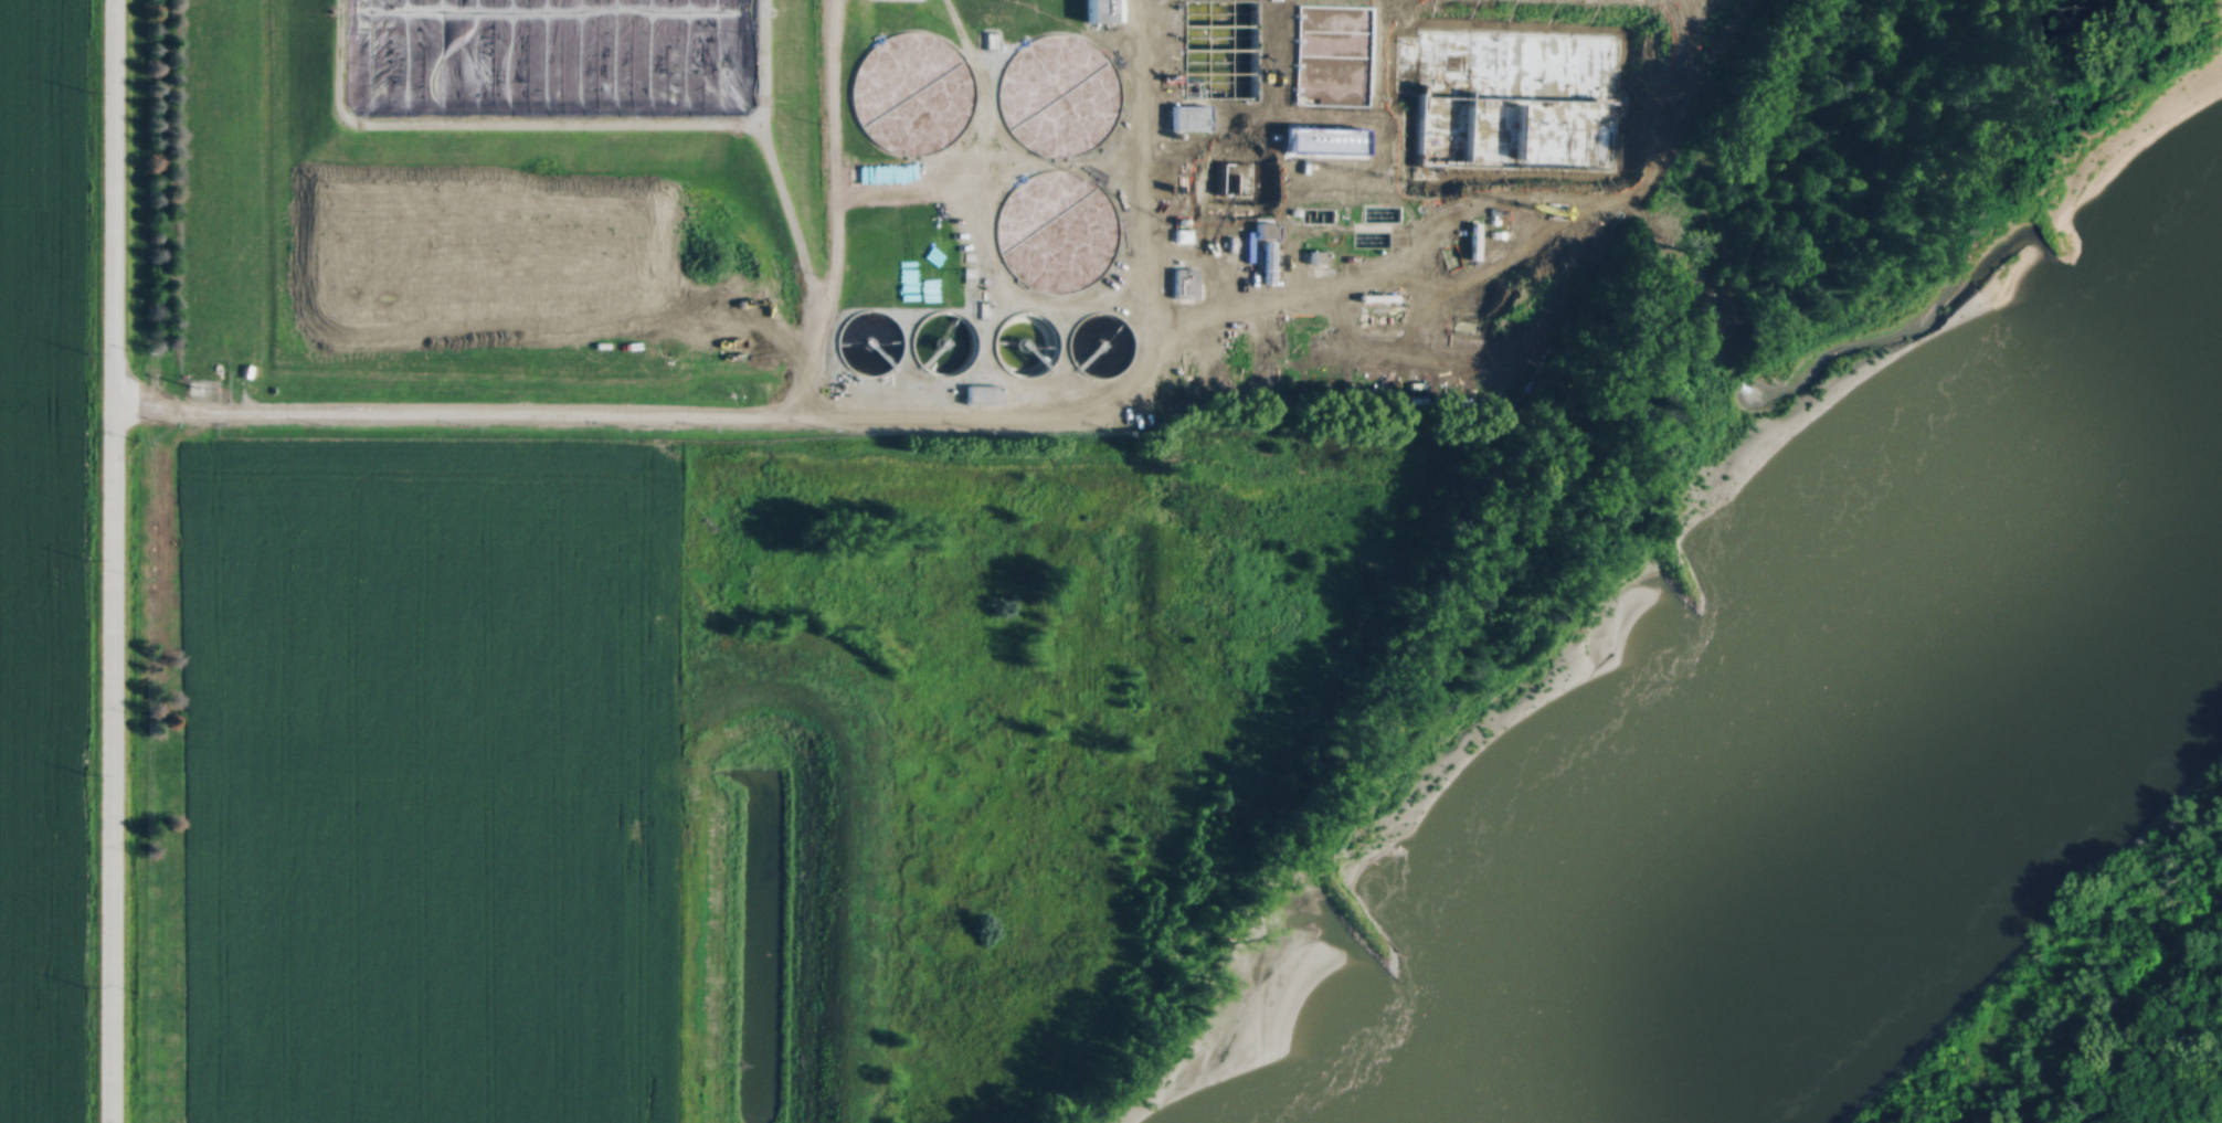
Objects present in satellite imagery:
road: (1149, 3)
building: (1097, 9)
building: (1331, 35)
road: (755, 61)
building: (917, 87)
building: (1048, 95)
building: (1188, 114)
road: (485, 123)
building: (1301, 155)
road: (1150, 187)
wastewater plant: (896, 210)
road: (1446, 215)
building: (1040, 225)
building: (1511, 234)
building: (1316, 253)
road: (803, 269)
building: (1182, 279)
building: (1019, 339)
building: (981, 392)
road: (1017, 421)
crop: (39, 560)
road: (108, 561)
river: (1856, 761)
crop: (419, 778)

